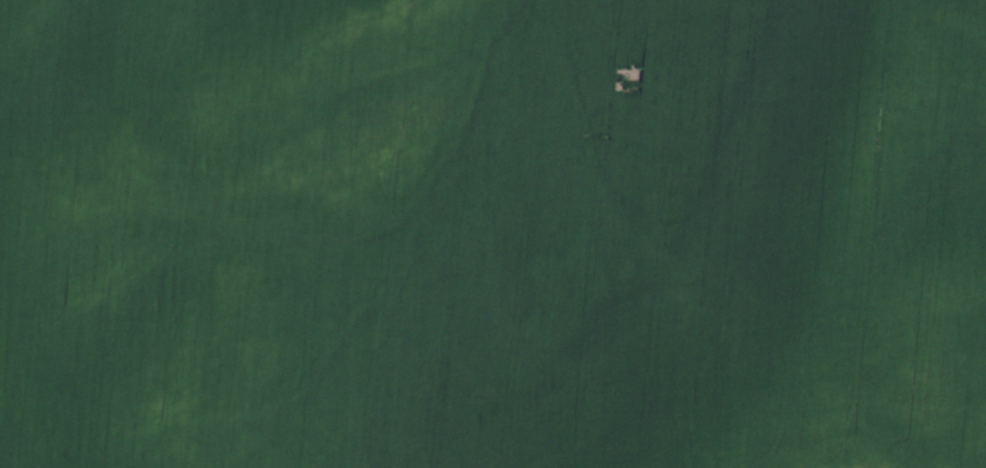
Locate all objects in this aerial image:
building: (794, 4)

